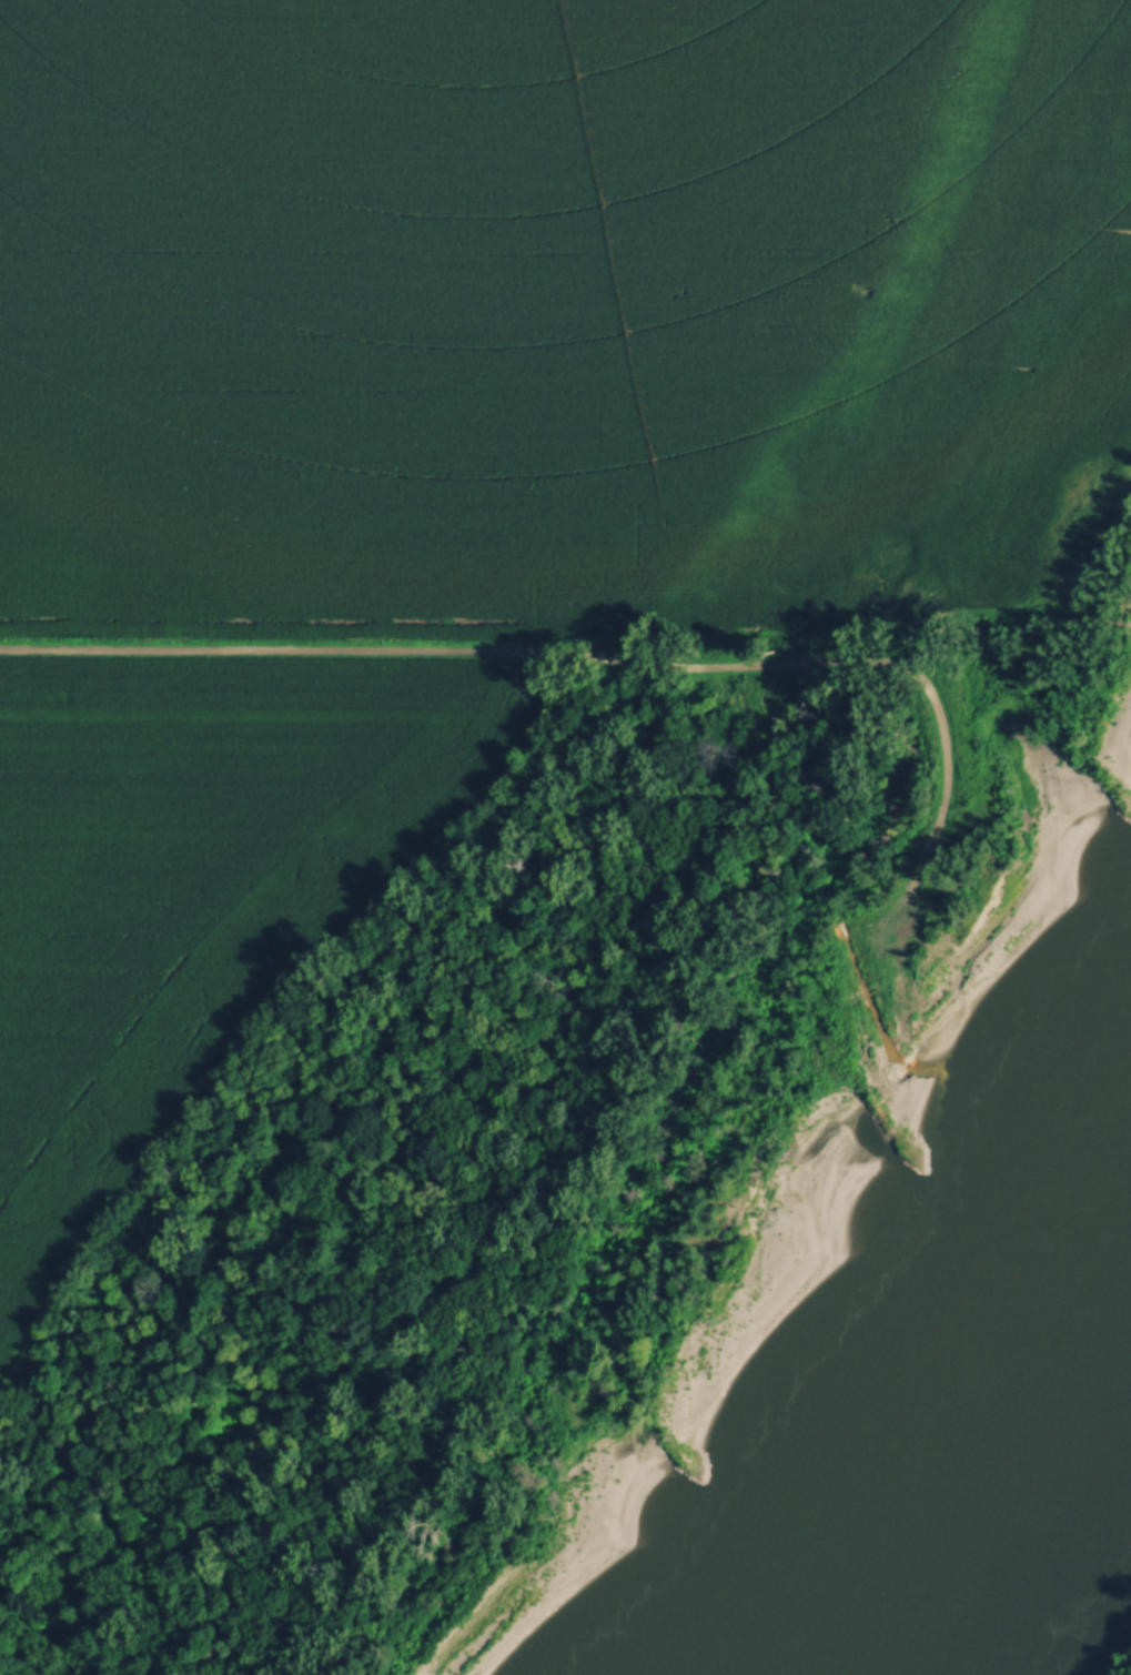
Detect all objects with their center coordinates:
crop: (548, 309)
crop: (198, 866)
river: (967, 1441)
river: (799, 1668)

